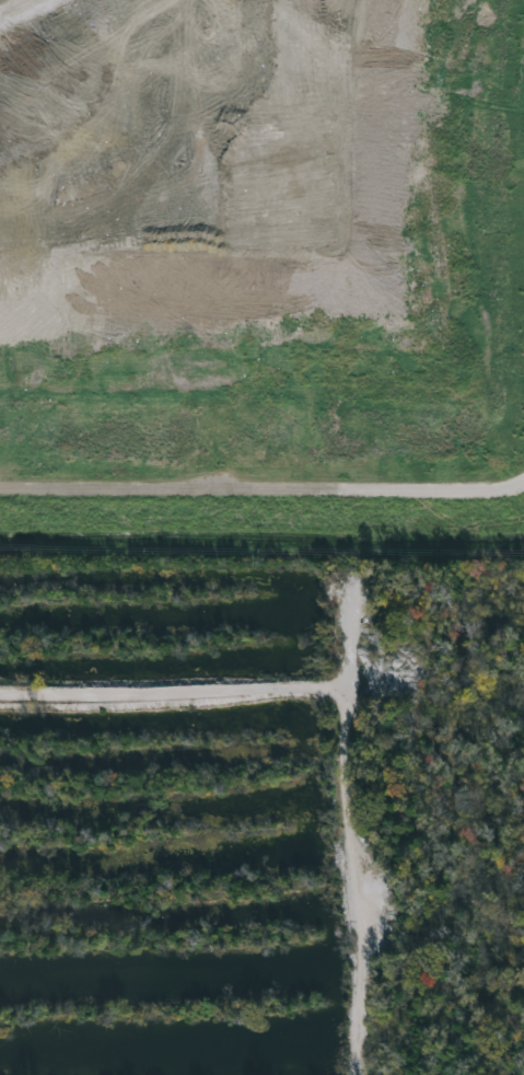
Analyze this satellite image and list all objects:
road: (15, 8)
landfill: (263, 271)

